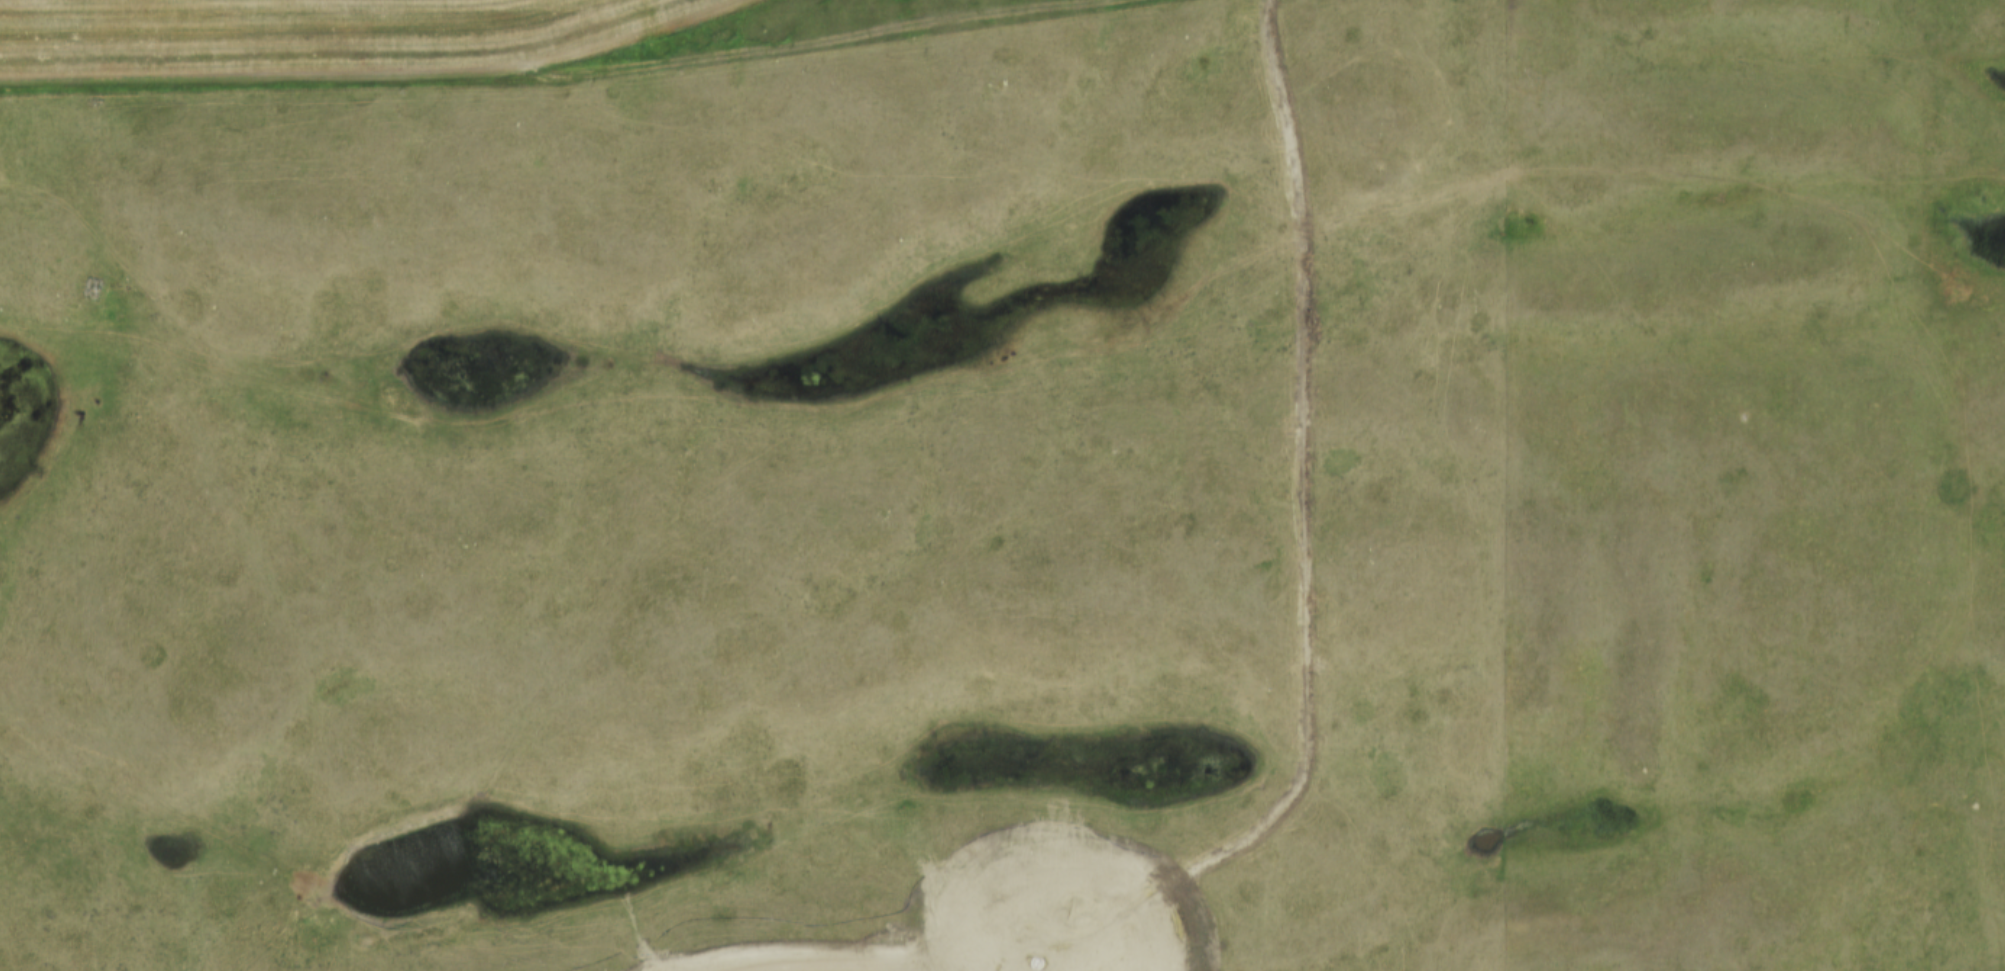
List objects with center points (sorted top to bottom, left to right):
wind turbine: (1037, 965)

